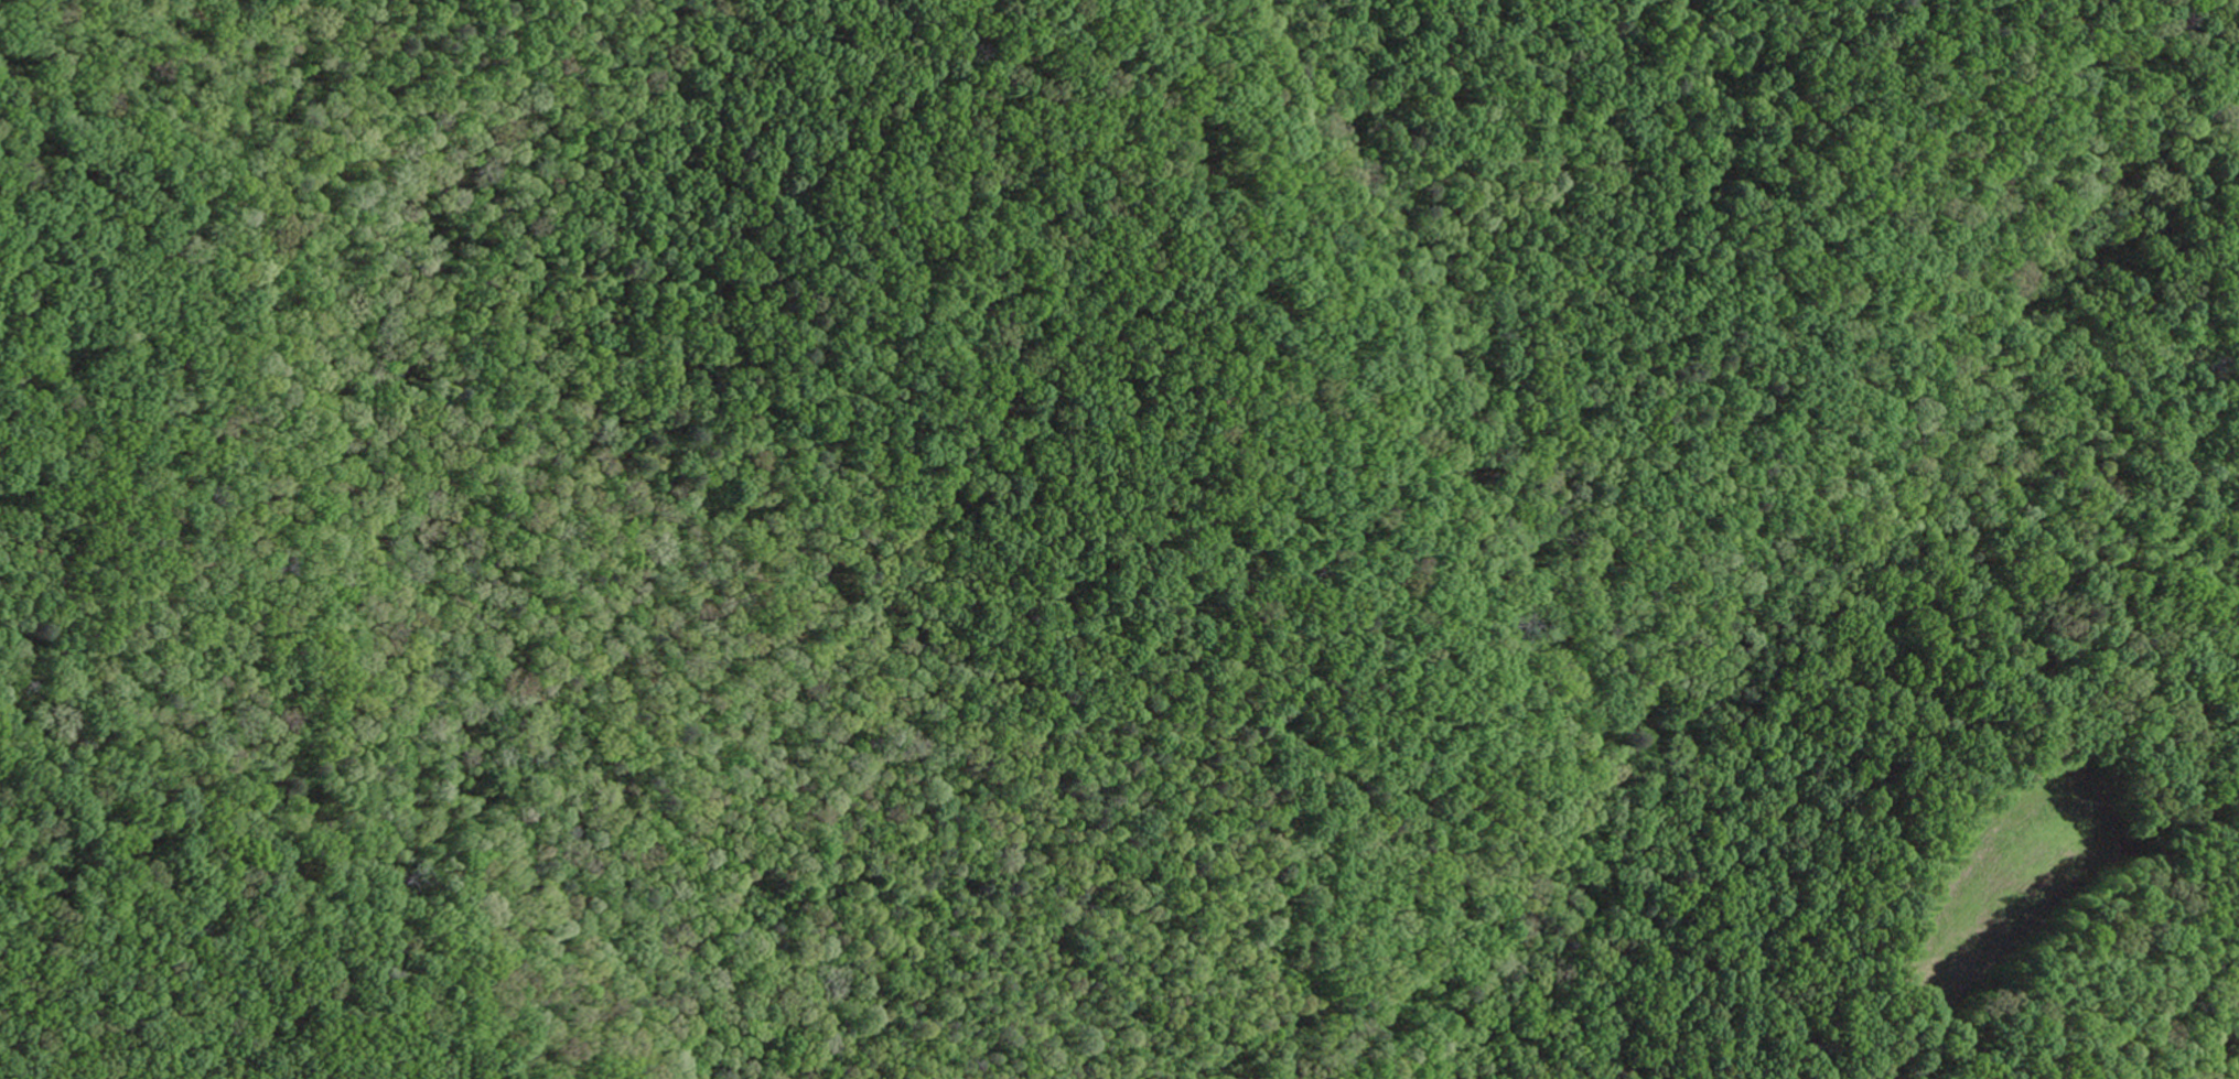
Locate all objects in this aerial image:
road: (1816, 97)

